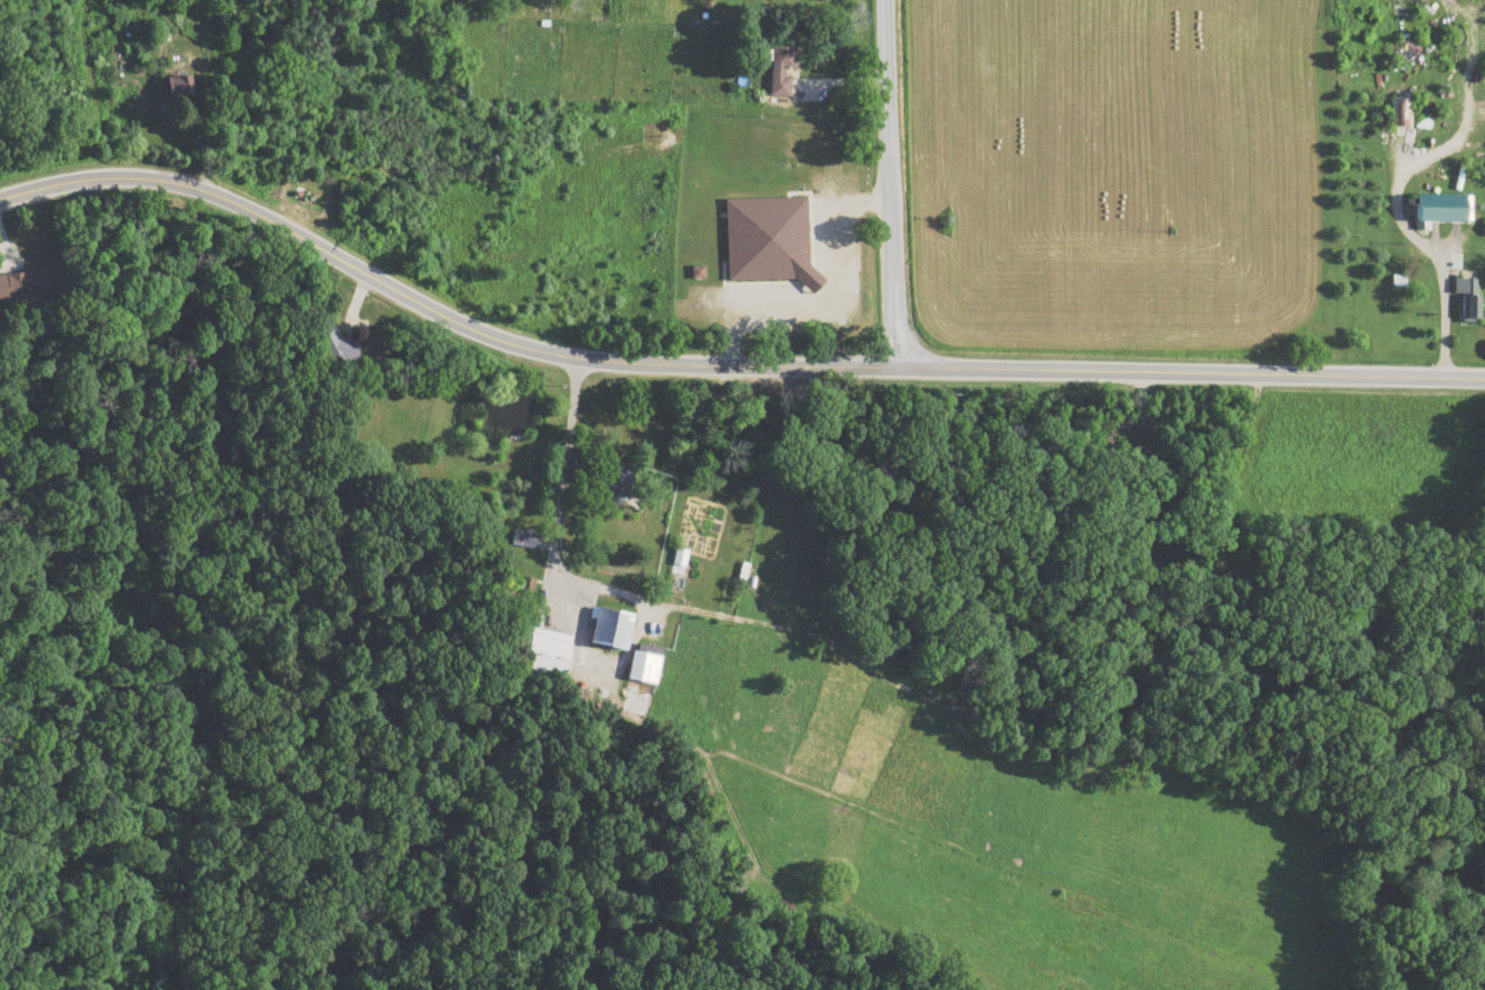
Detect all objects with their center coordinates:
building: (783, 65)
building: (178, 87)
building: (1402, 113)
road: (890, 181)
building: (1443, 209)
building: (769, 242)
building: (30, 285)
building: (1471, 302)
road: (836, 304)
road: (1443, 315)
building: (334, 347)
road: (721, 366)
road: (565, 470)
building: (610, 479)
building: (679, 559)
road: (582, 615)
road: (530, 616)
building: (608, 630)
building: (546, 655)
building: (643, 669)
road: (921, 698)
road: (411, 788)
road: (924, 835)

